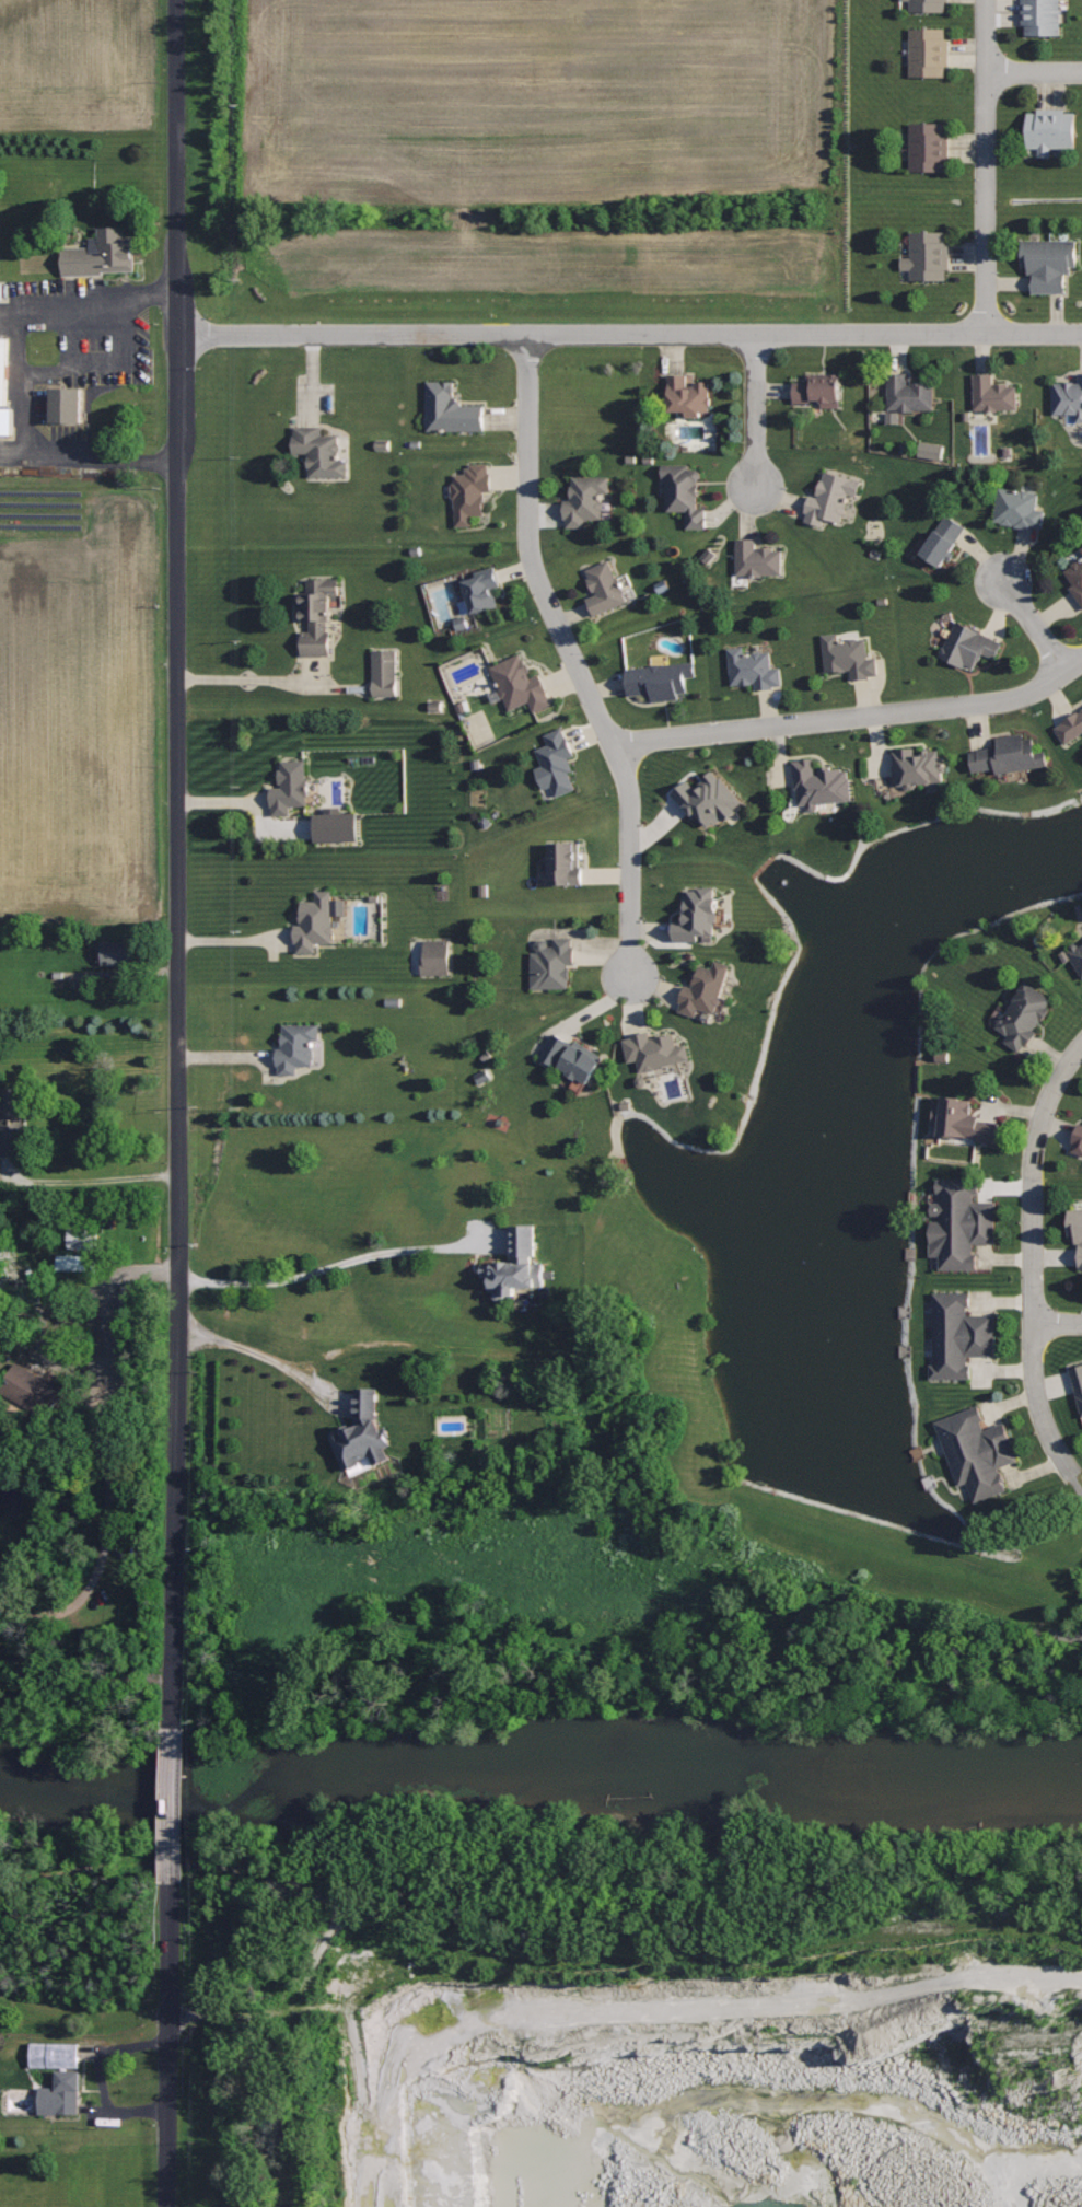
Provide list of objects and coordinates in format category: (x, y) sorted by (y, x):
building: (928, 4)
building: (1040, 16)
building: (929, 51)
road: (1035, 73)
building: (1049, 129)
building: (929, 146)
road: (987, 166)
road: (175, 167)
building: (928, 254)
building: (103, 255)
building: (1048, 262)
road: (11, 312)
road: (629, 334)
building: (4, 372)
road: (21, 377)
building: (818, 388)
building: (909, 393)
building: (992, 393)
building: (686, 395)
building: (1069, 396)
building: (69, 407)
building: (452, 409)
road: (756, 410)
building: (7, 422)
road: (16, 451)
building: (321, 452)
building: (932, 452)
building: (472, 491)
building: (684, 491)
building: (829, 498)
building: (585, 499)
building: (1017, 508)
building: (943, 539)
building: (1081, 547)
road: (533, 550)
building: (757, 558)
building: (1075, 578)
building: (484, 586)
building: (605, 586)
building: (318, 613)
road: (1033, 625)
building: (968, 644)
building: (848, 655)
building: (754, 669)
building: (386, 674)
road: (246, 677)
building: (661, 678)
building: (520, 683)
road: (853, 717)
building: (1071, 725)
building: (1010, 754)
building: (556, 760)
building: (918, 766)
building: (821, 783)
building: (290, 786)
building: (708, 798)
building: (338, 827)
road: (178, 839)
building: (566, 862)
road: (629, 862)
building: (699, 913)
building: (316, 919)
building: (117, 953)
building: (1077, 954)
building: (438, 956)
building: (551, 962)
building: (705, 988)
building: (1024, 1015)
building: (298, 1045)
building: (654, 1048)
building: (572, 1057)
building: (963, 1119)
building: (12, 1122)
building: (1078, 1139)
road: (1035, 1177)
building: (961, 1222)
building: (1075, 1228)
road: (338, 1264)
building: (515, 1265)
road: (1062, 1323)
building: (958, 1335)
road: (255, 1352)
building: (1078, 1381)
building: (33, 1390)
road: (1038, 1399)
building: (362, 1433)
building: (975, 1451)
road: (176, 1535)
river: (538, 1787)
road: (172, 1805)
road: (81, 1871)
road: (615, 1967)
quarry: (619, 1997)
road: (264, 2017)
road: (168, 2045)
building: (55, 2056)
building: (62, 2095)
road: (367, 2110)

